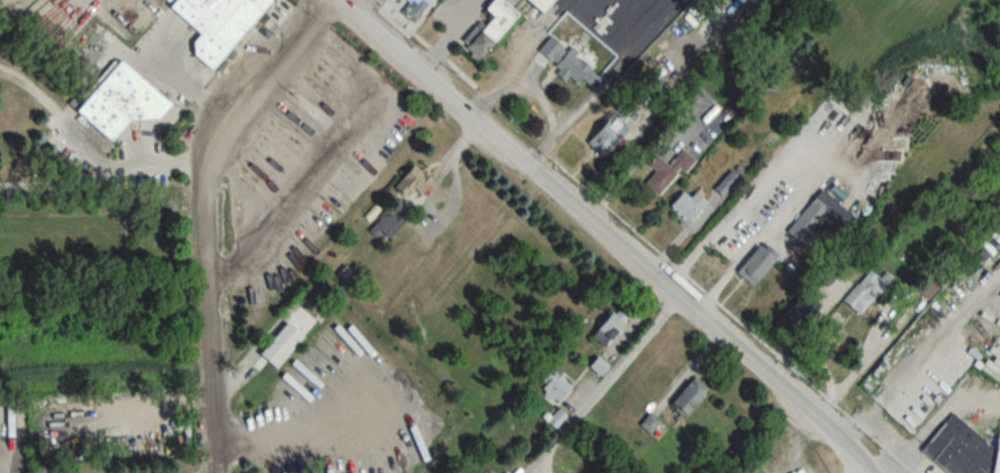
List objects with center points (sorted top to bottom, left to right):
building: (540, 4)
building: (414, 9)
building: (217, 24)
building: (491, 28)
road: (448, 37)
road: (427, 46)
building: (567, 62)
road: (413, 68)
building: (118, 101)
road: (58, 117)
building: (609, 133)
road: (165, 160)
building: (666, 171)
road: (58, 174)
building: (413, 181)
road: (746, 204)
building: (688, 205)
building: (811, 216)
road: (208, 217)
road: (441, 220)
building: (386, 224)
building: (728, 240)
building: (756, 263)
building: (830, 271)
building: (866, 289)
road: (681, 302)
road: (729, 314)
building: (609, 327)
road: (805, 327)
building: (833, 336)
road: (939, 337)
building: (281, 344)
building: (598, 366)
building: (554, 386)
road: (604, 386)
building: (689, 395)
building: (556, 418)
road: (858, 421)
building: (649, 423)
road: (900, 443)
building: (962, 449)

